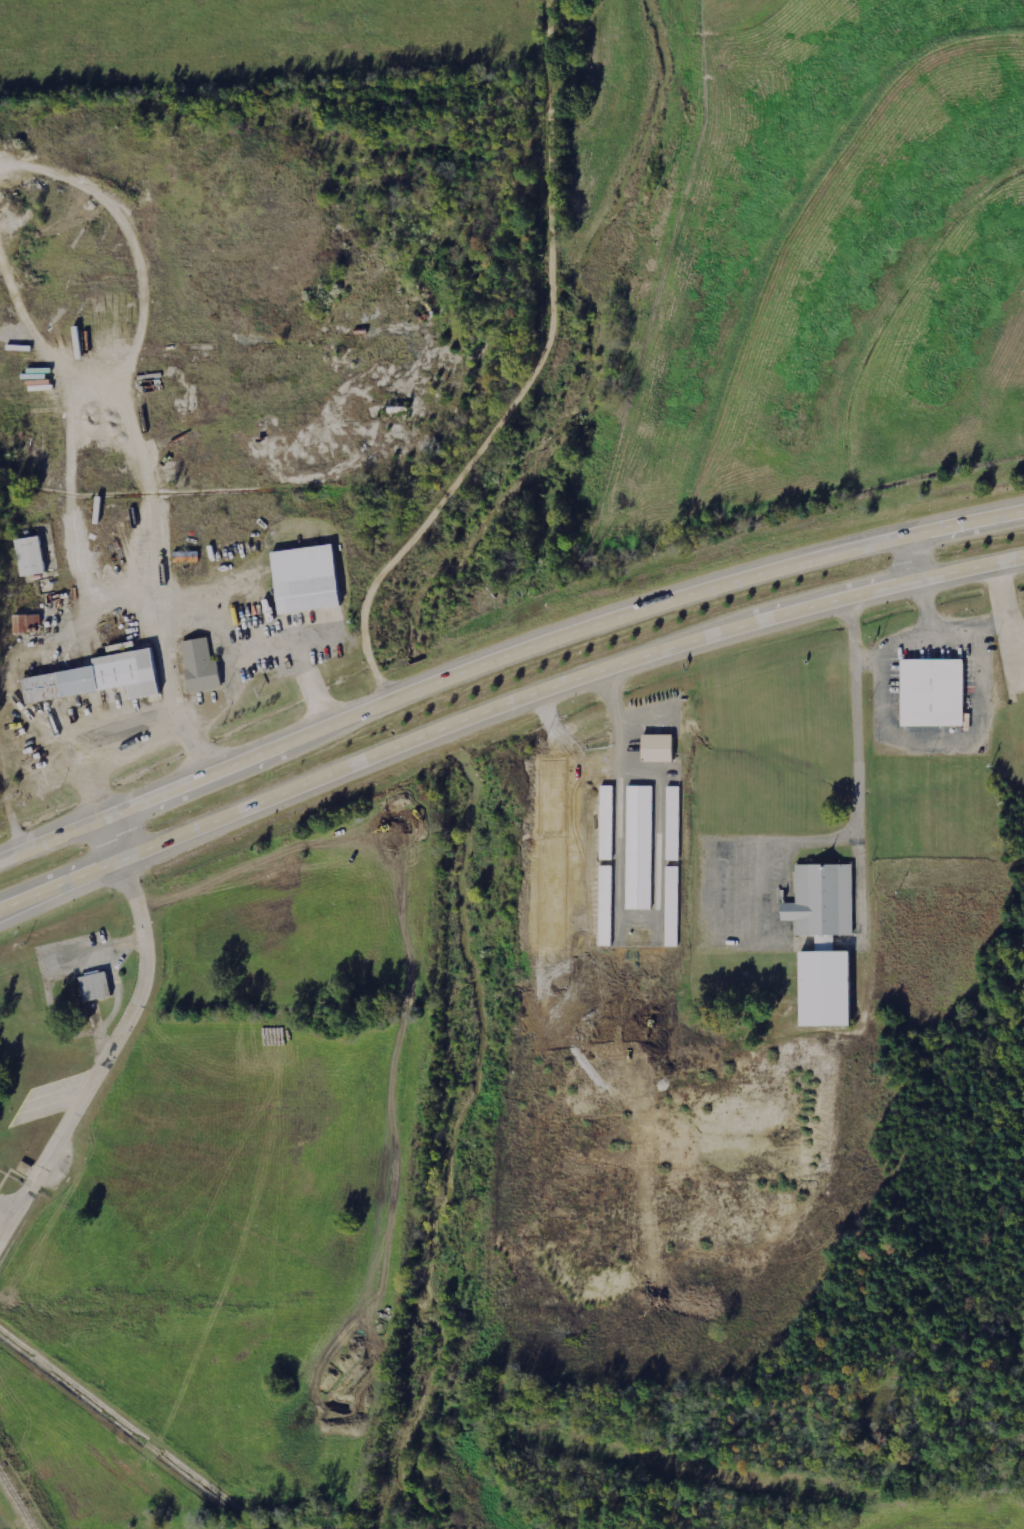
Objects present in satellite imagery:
road: (910, 551)
building: (31, 556)
building: (303, 580)
building: (27, 624)
road: (503, 651)
building: (198, 667)
building: (96, 679)
building: (930, 694)
road: (215, 701)
road: (502, 704)
road: (856, 739)
road: (195, 745)
building: (656, 747)
building: (673, 821)
building: (606, 822)
building: (638, 846)
building: (605, 904)
building: (672, 904)
building: (821, 943)
building: (94, 986)
road: (127, 1038)
road: (14, 1195)
railway: (15, 1502)

